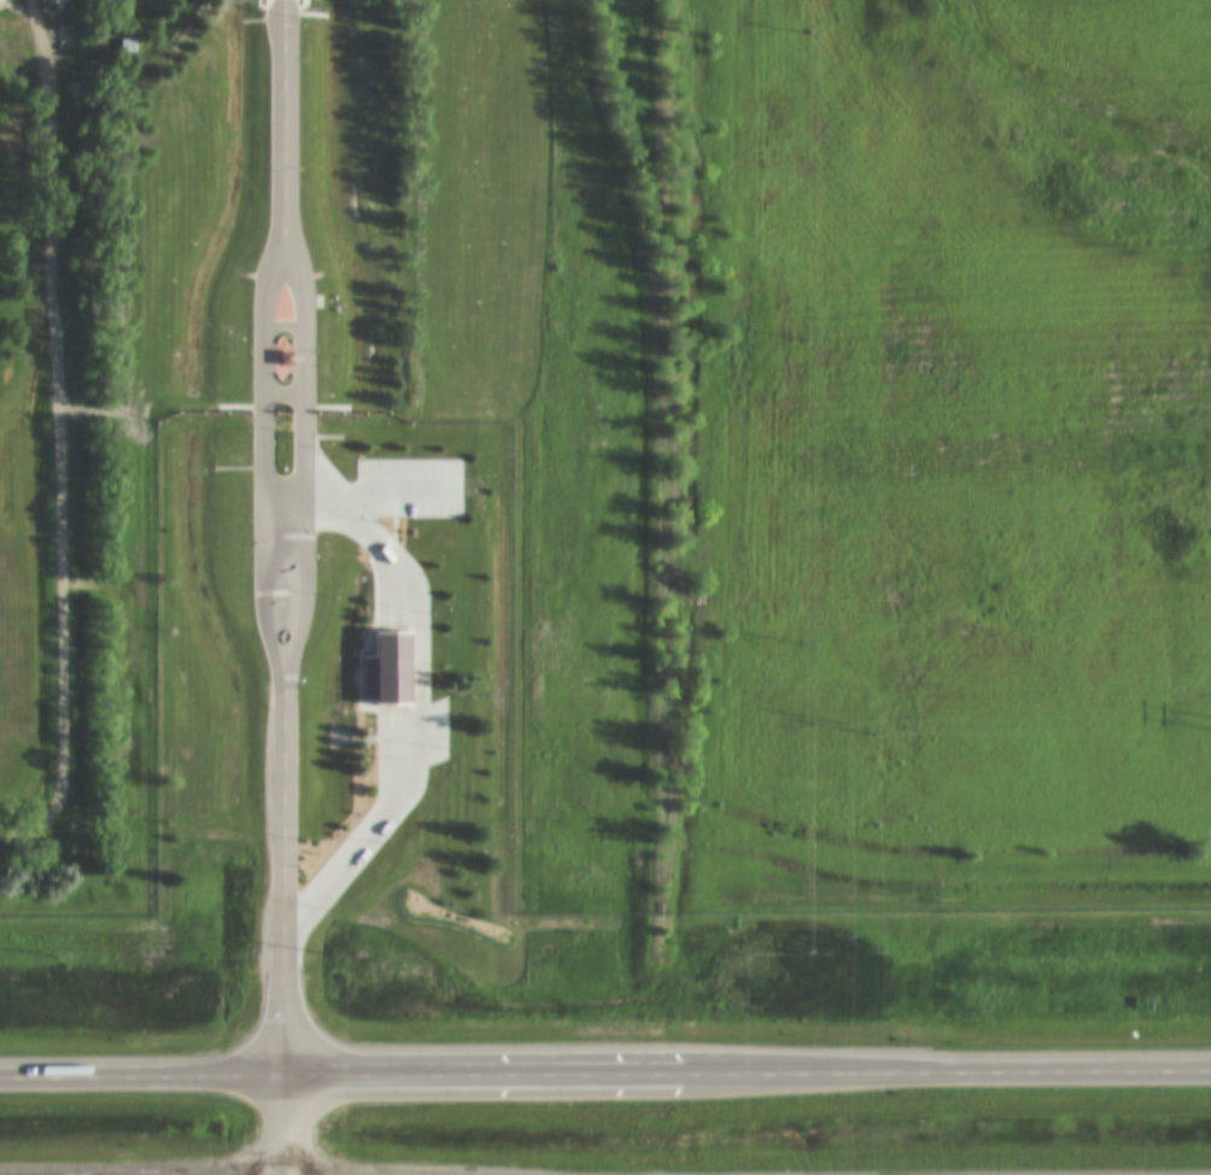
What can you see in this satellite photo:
building: (46, 1)
road: (285, 118)
park: (27, 205)
building: (283, 357)
railway: (659, 455)
railway: (674, 456)
road: (264, 458)
road: (304, 458)
parking lot: (409, 487)
building: (386, 672)
road: (420, 685)
parking lot: (437, 731)
road: (286, 875)
road: (604, 1066)
road: (286, 1122)

